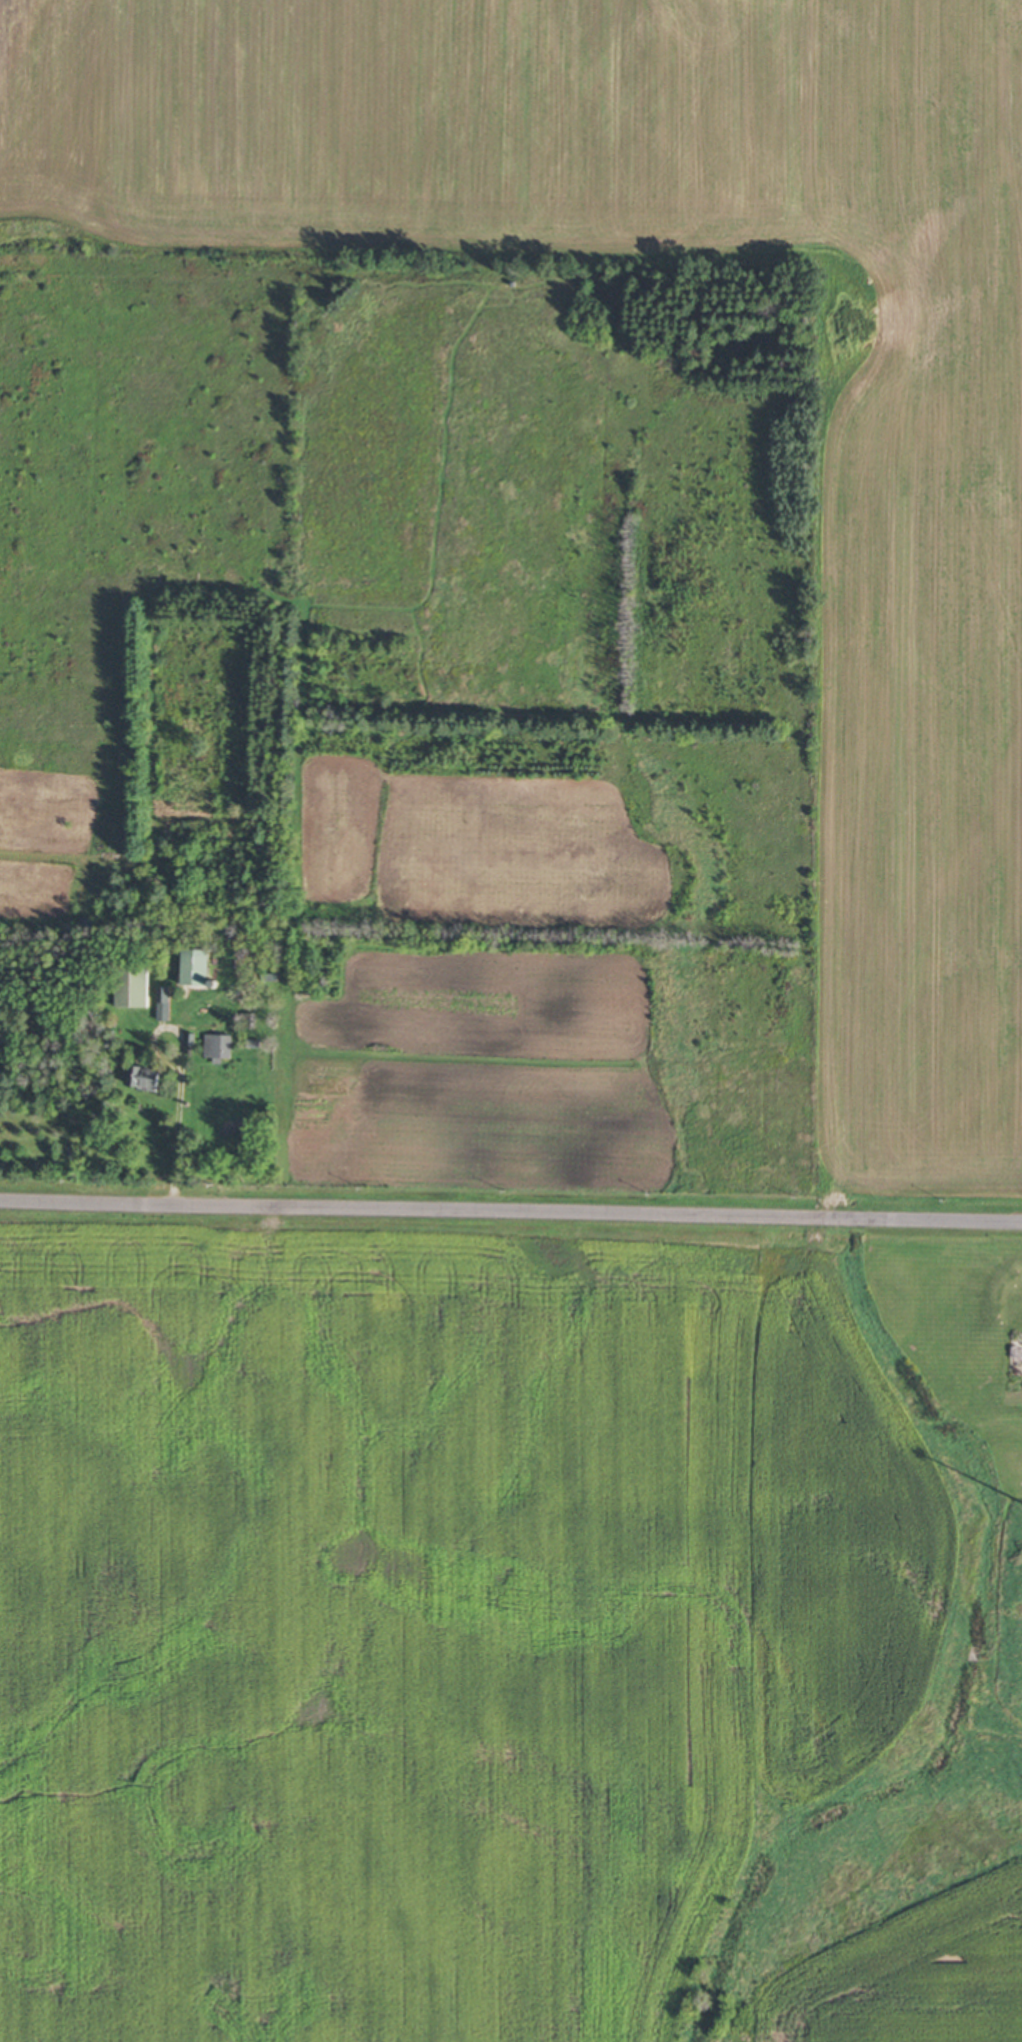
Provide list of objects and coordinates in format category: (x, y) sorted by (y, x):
building: (195, 967)
building: (132, 985)
building: (164, 1003)
building: (248, 1021)
building: (219, 1047)
building: (144, 1078)
road: (511, 1207)

